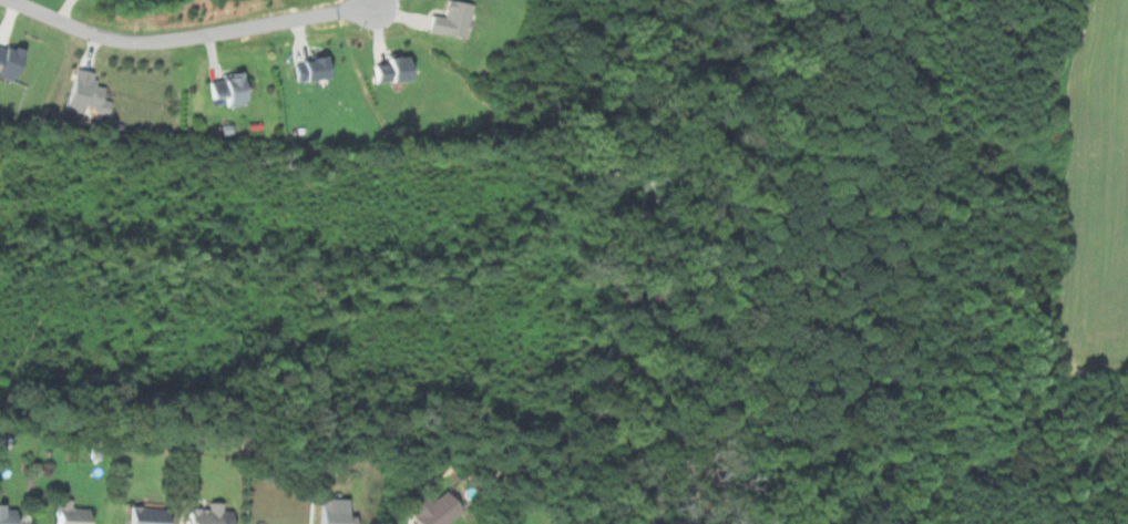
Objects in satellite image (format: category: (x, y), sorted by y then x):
building: (450, 19)
road: (188, 37)
building: (8, 61)
building: (306, 69)
building: (387, 70)
building: (221, 89)
building: (82, 93)
building: (430, 510)
building: (331, 512)
building: (65, 513)
building: (6, 515)
building: (142, 515)
building: (205, 515)

